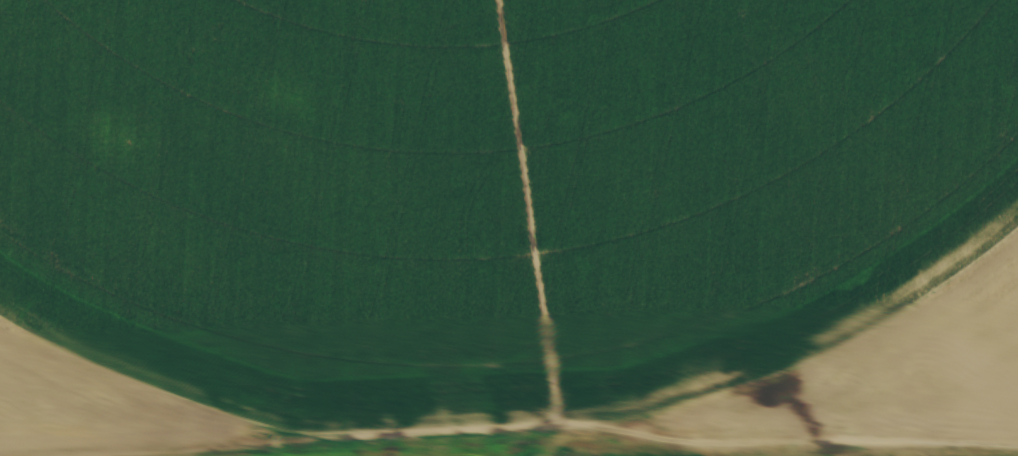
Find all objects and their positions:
crop: (506, 219)
road: (579, 445)
crop: (816, 455)

